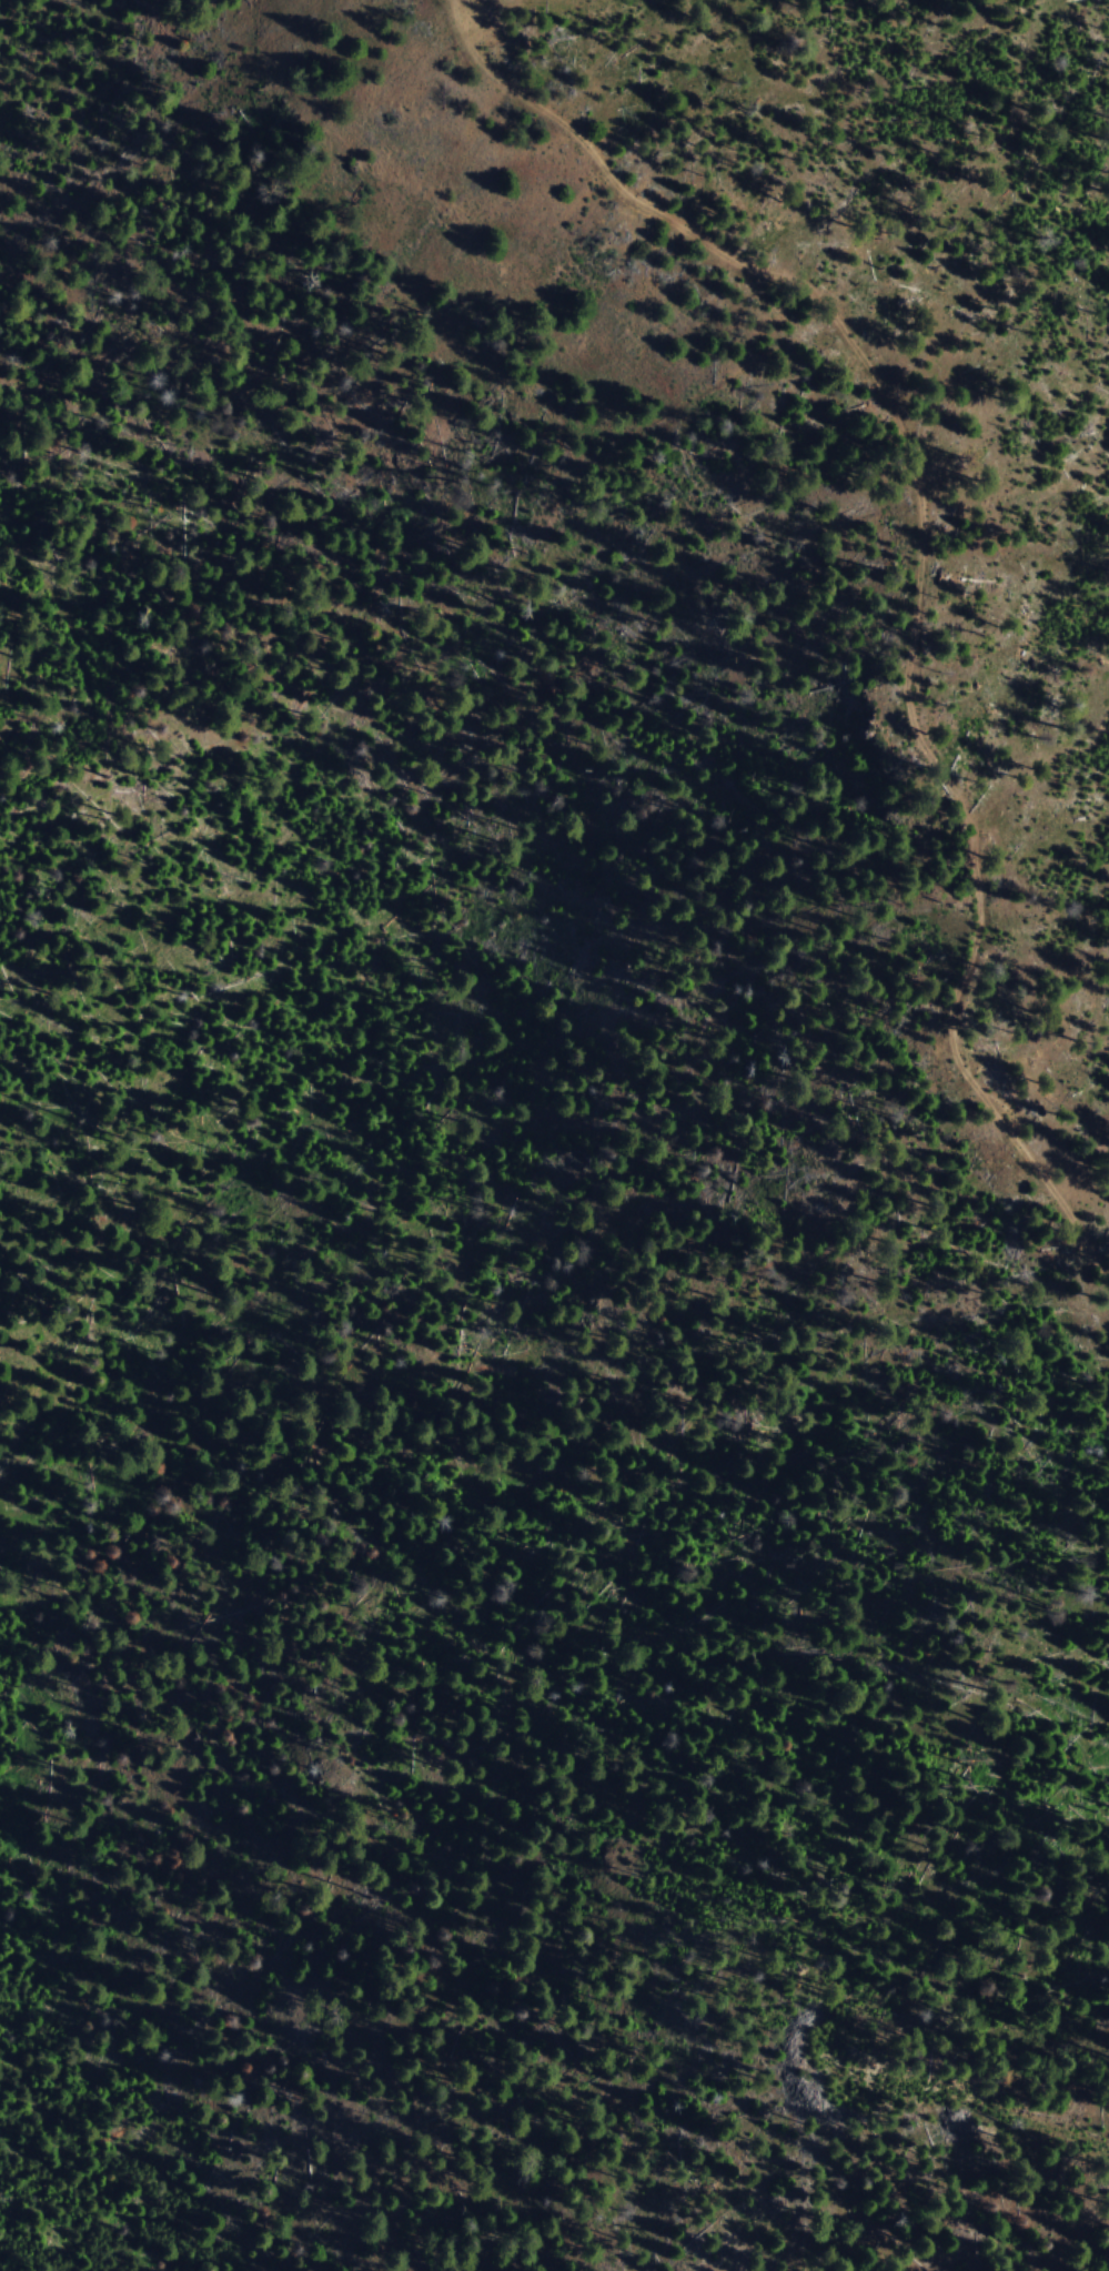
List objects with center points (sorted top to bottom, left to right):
road: (914, 562)

